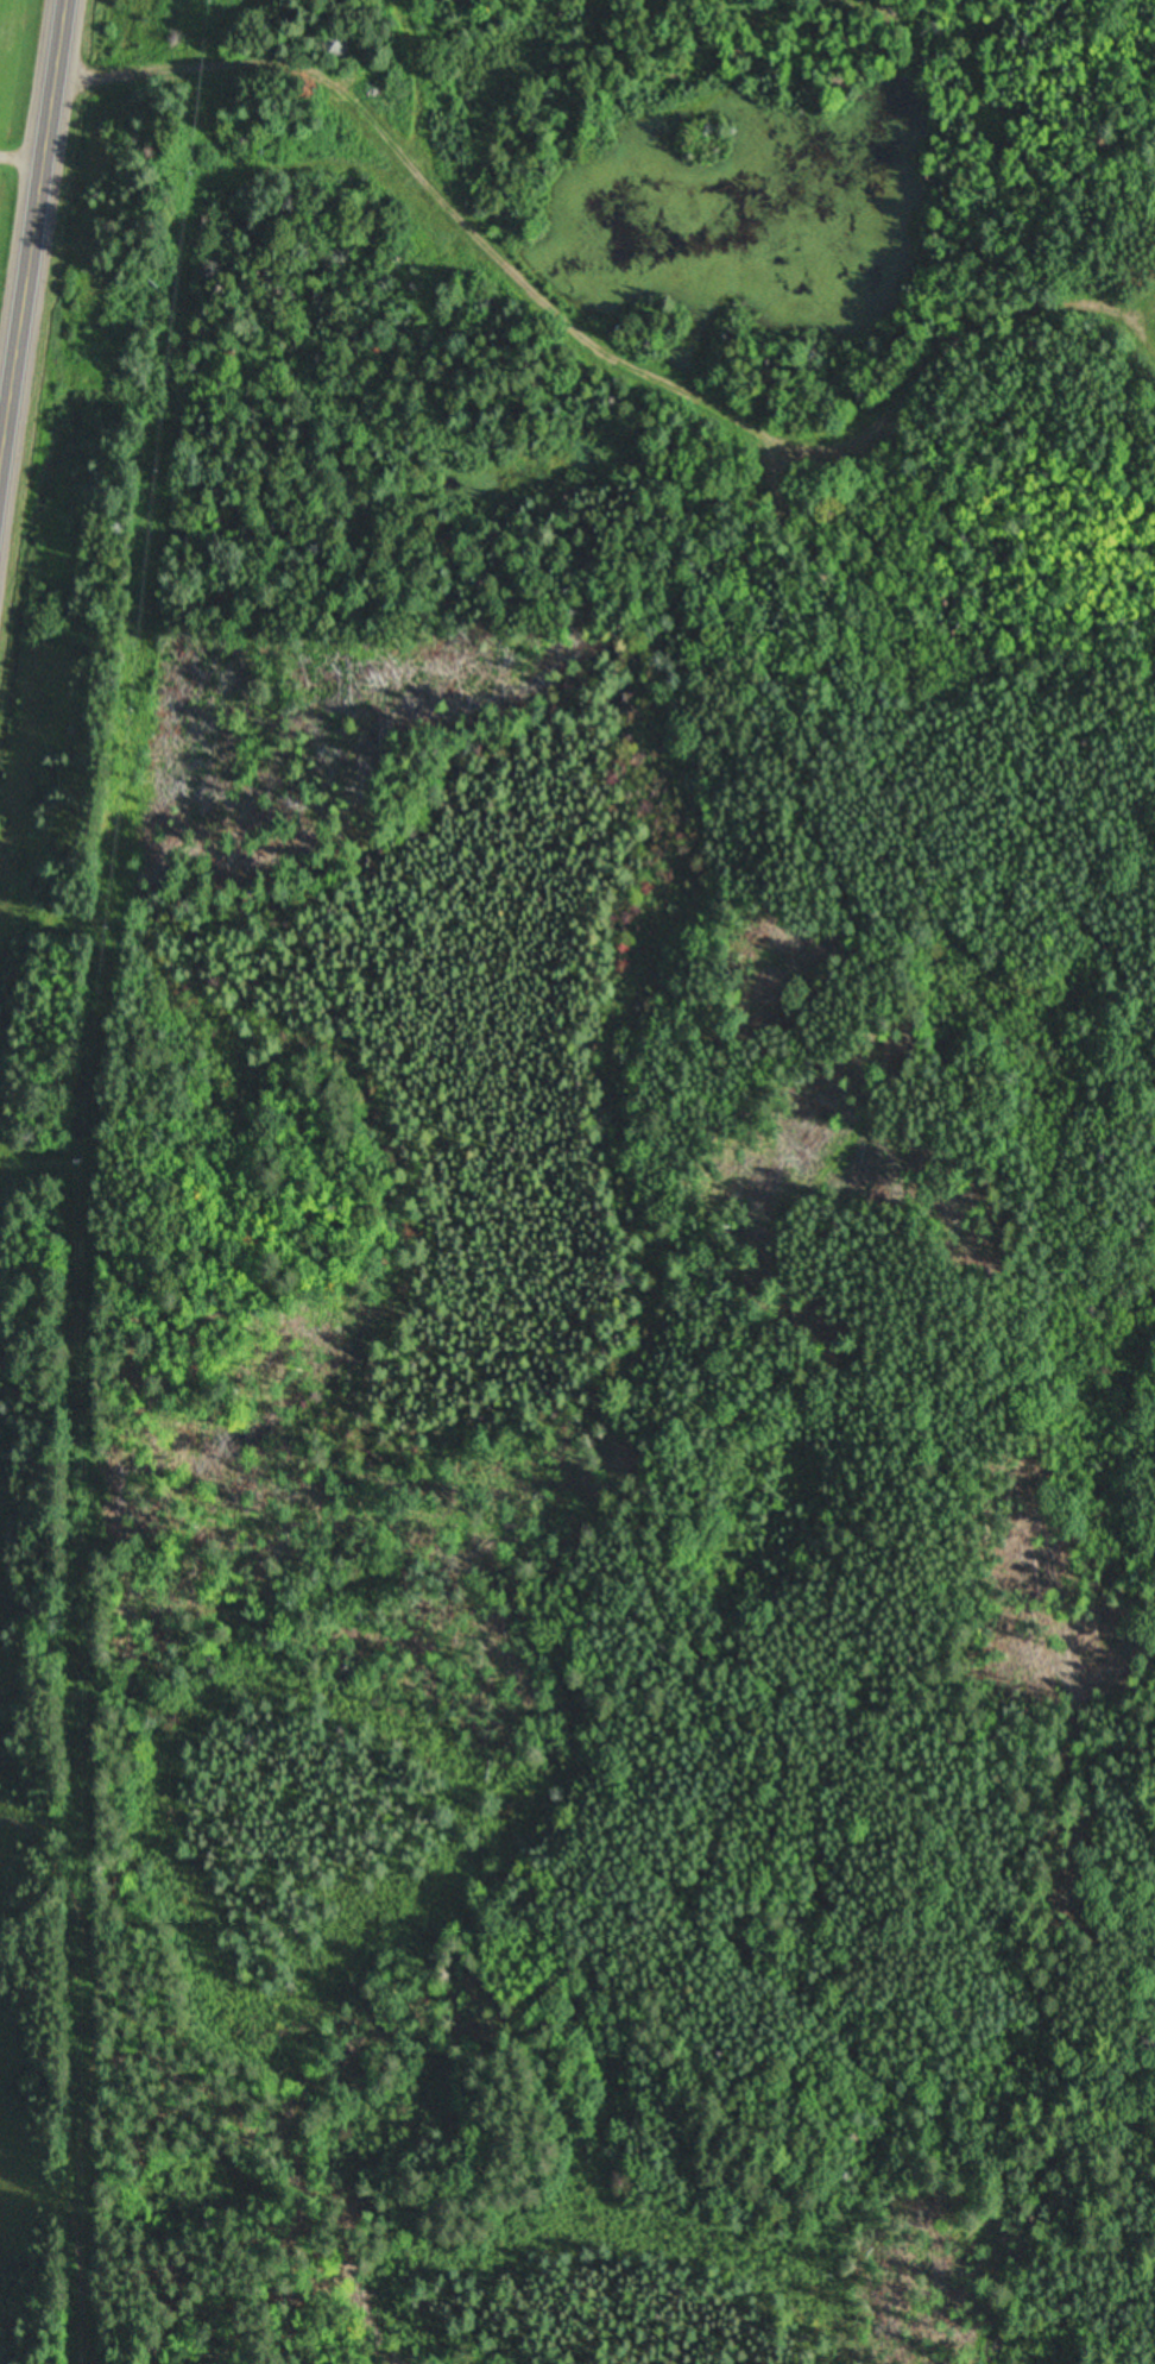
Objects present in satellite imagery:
building: (359, 57)
road: (33, 271)
road: (497, 754)
road: (708, 2117)

